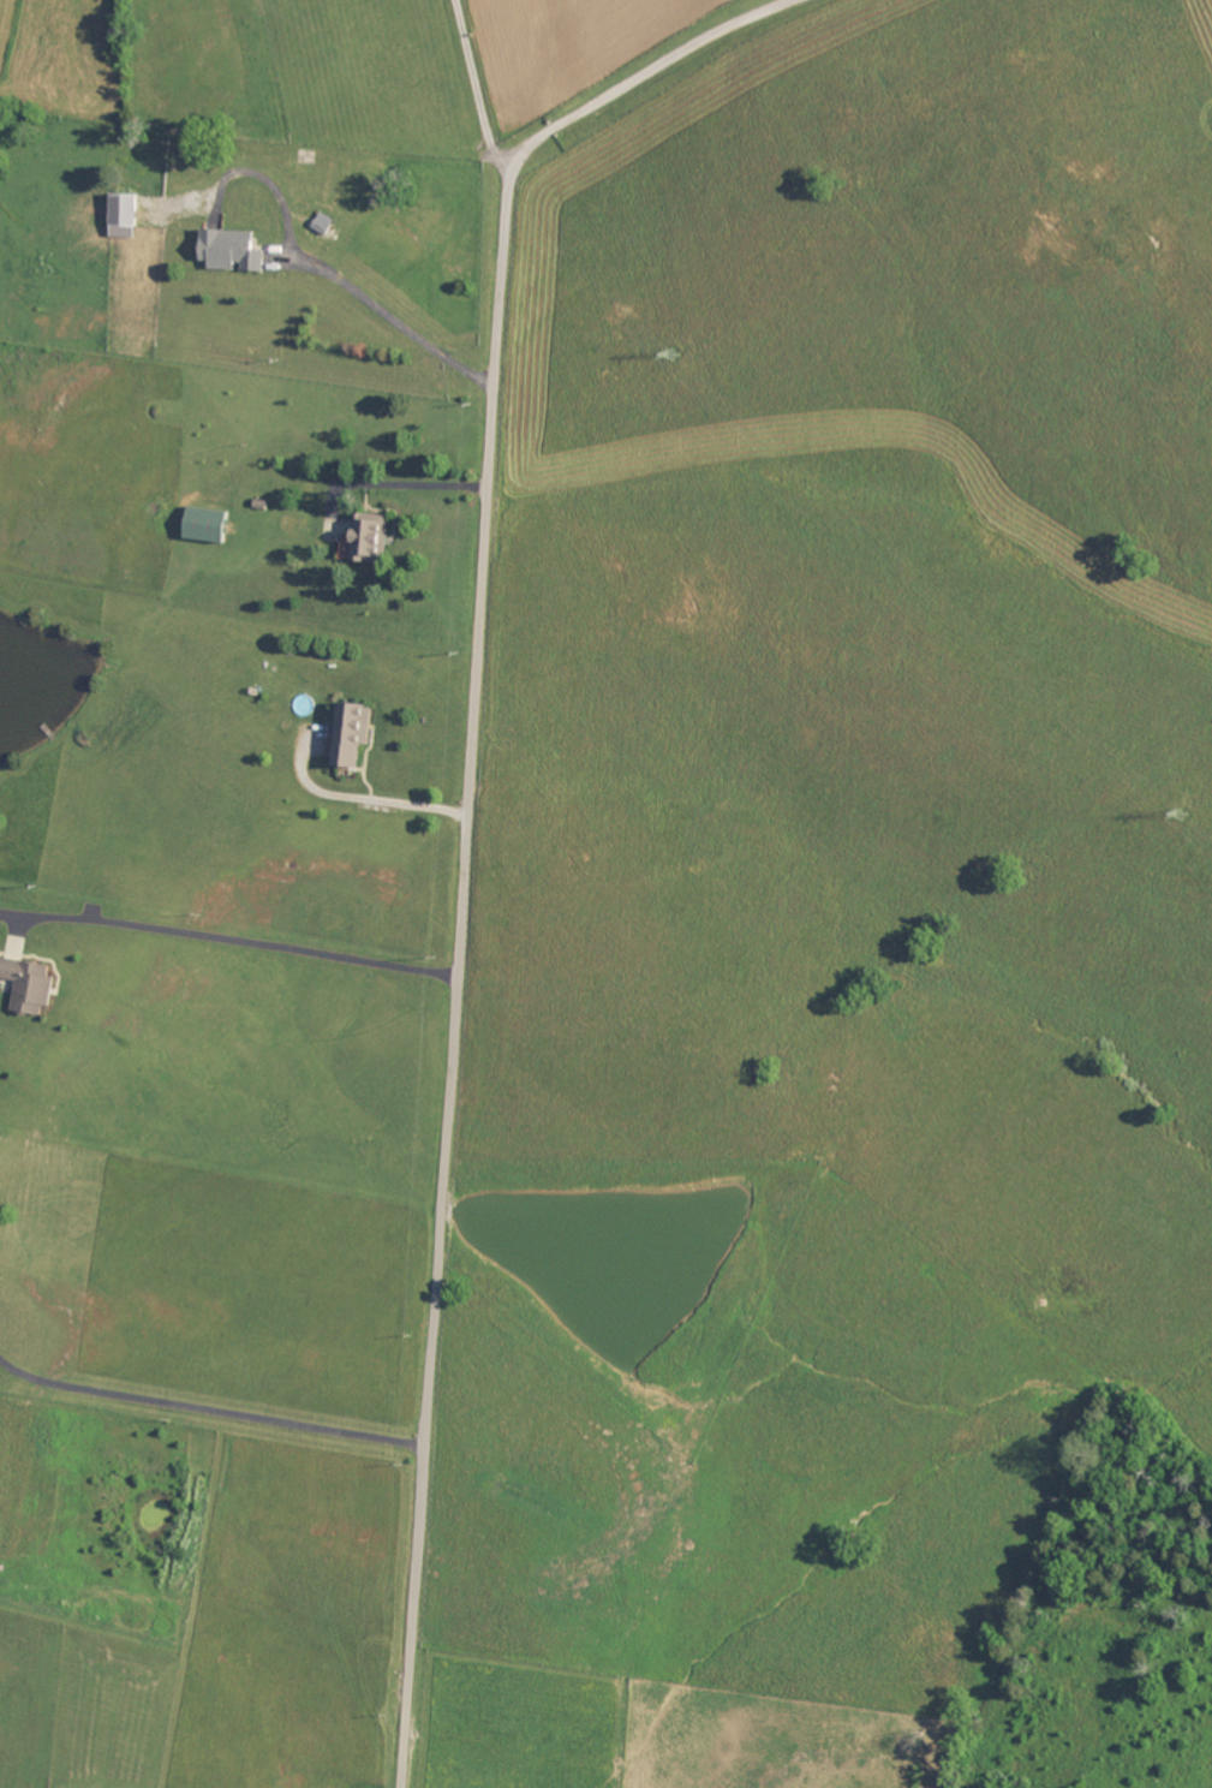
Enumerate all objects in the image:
road: (685, 49)
road: (479, 91)
road: (544, 136)
building: (120, 216)
building: (228, 251)
building: (203, 526)
building: (364, 538)
building: (348, 735)
road: (368, 799)
road: (249, 942)
road: (461, 978)
building: (34, 984)
road: (222, 1186)
road: (209, 1412)

